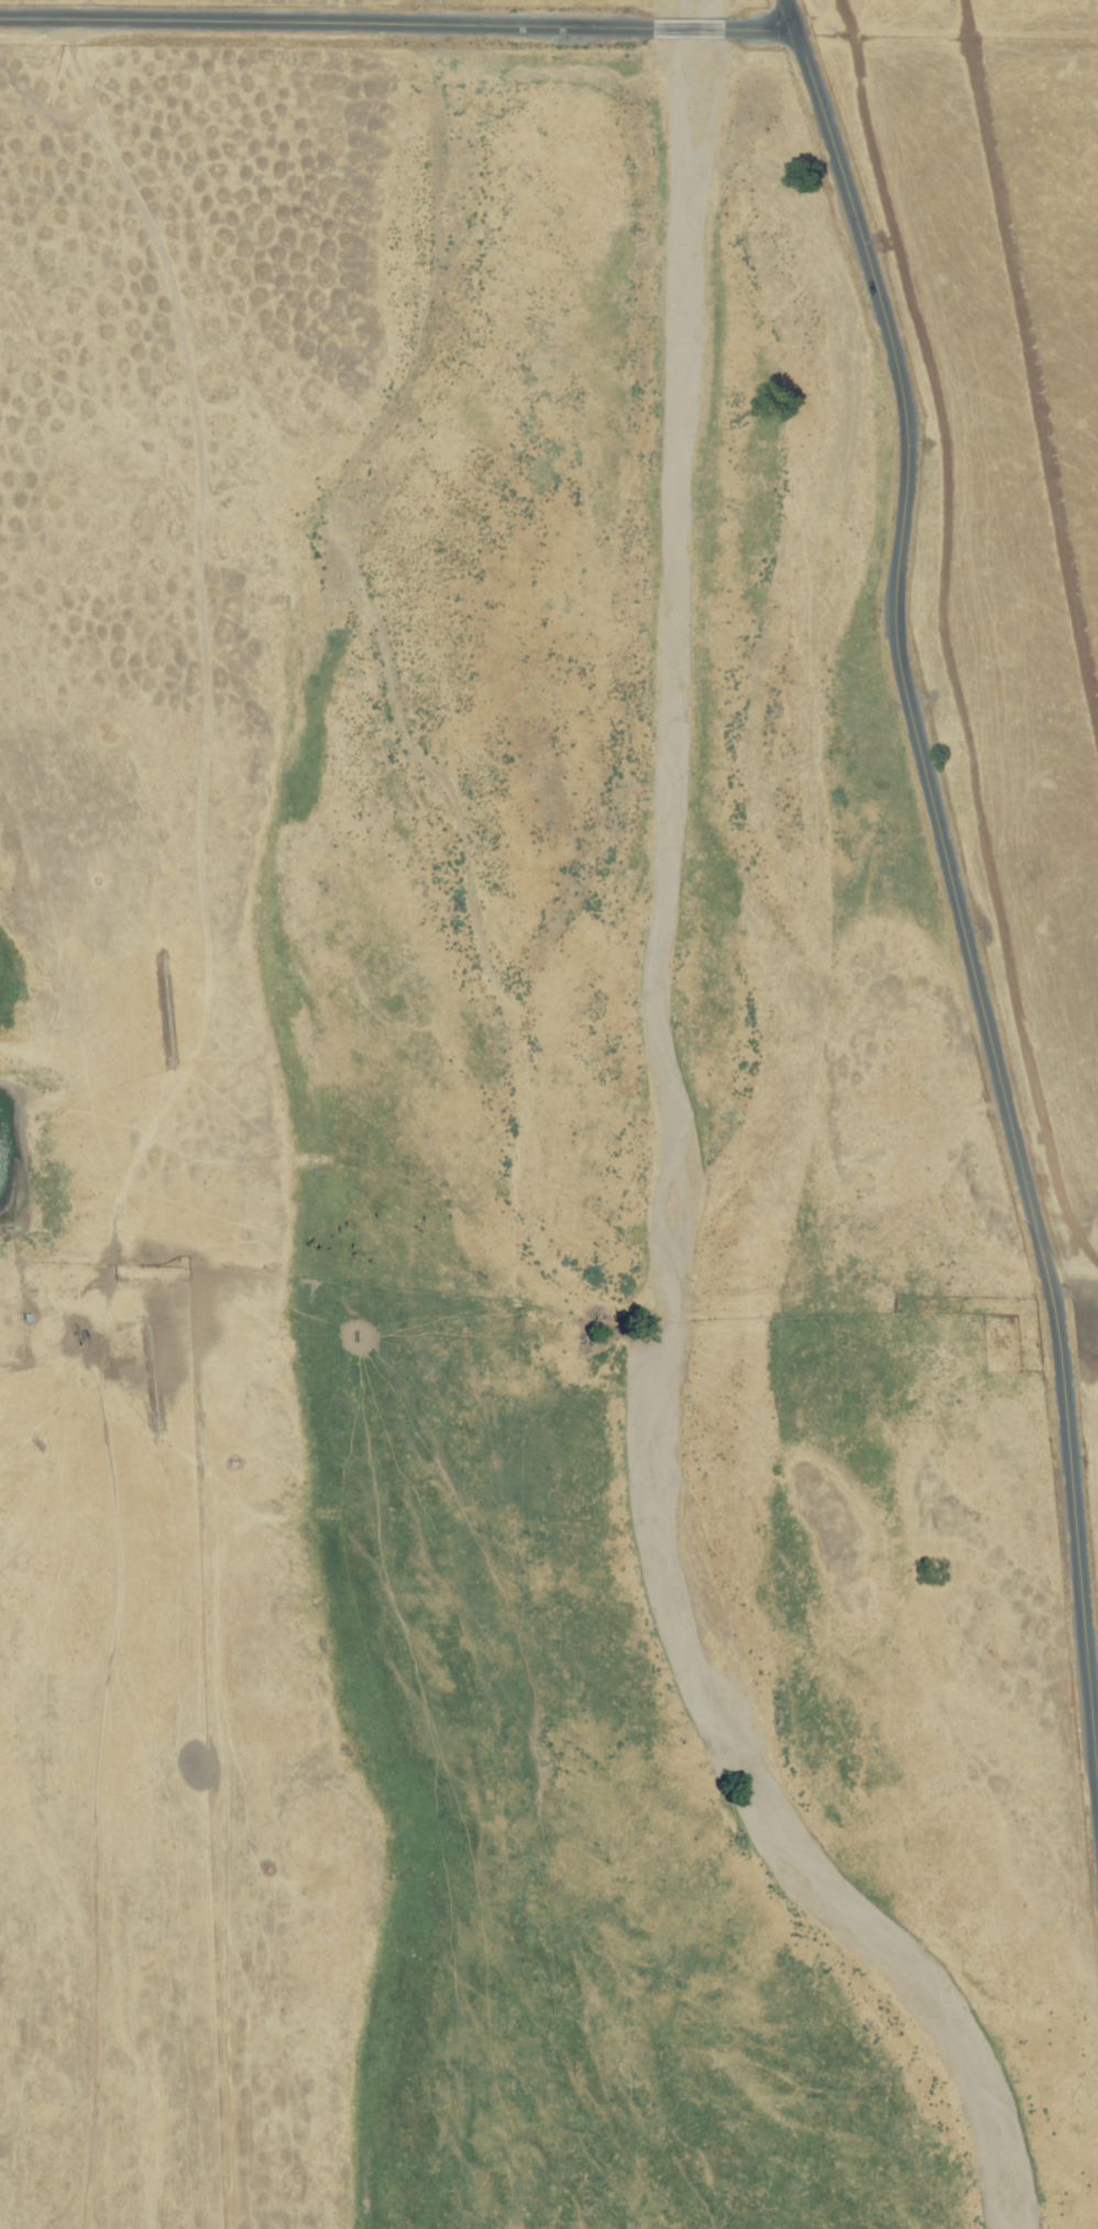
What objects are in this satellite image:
road: (325, 22)
road: (690, 28)
road: (762, 29)
road: (956, 899)
crop: (167, 1057)
crop: (712, 1155)

